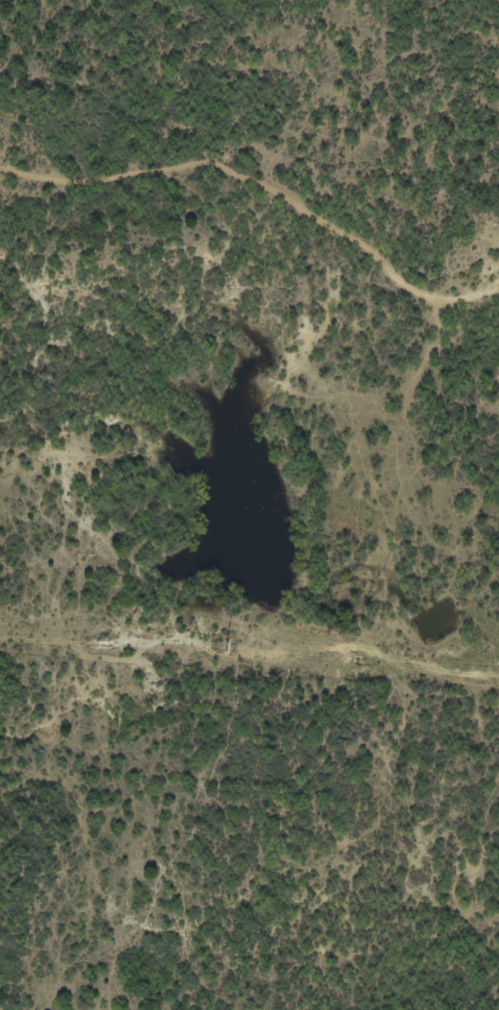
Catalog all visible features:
power tower: (221, 647)

